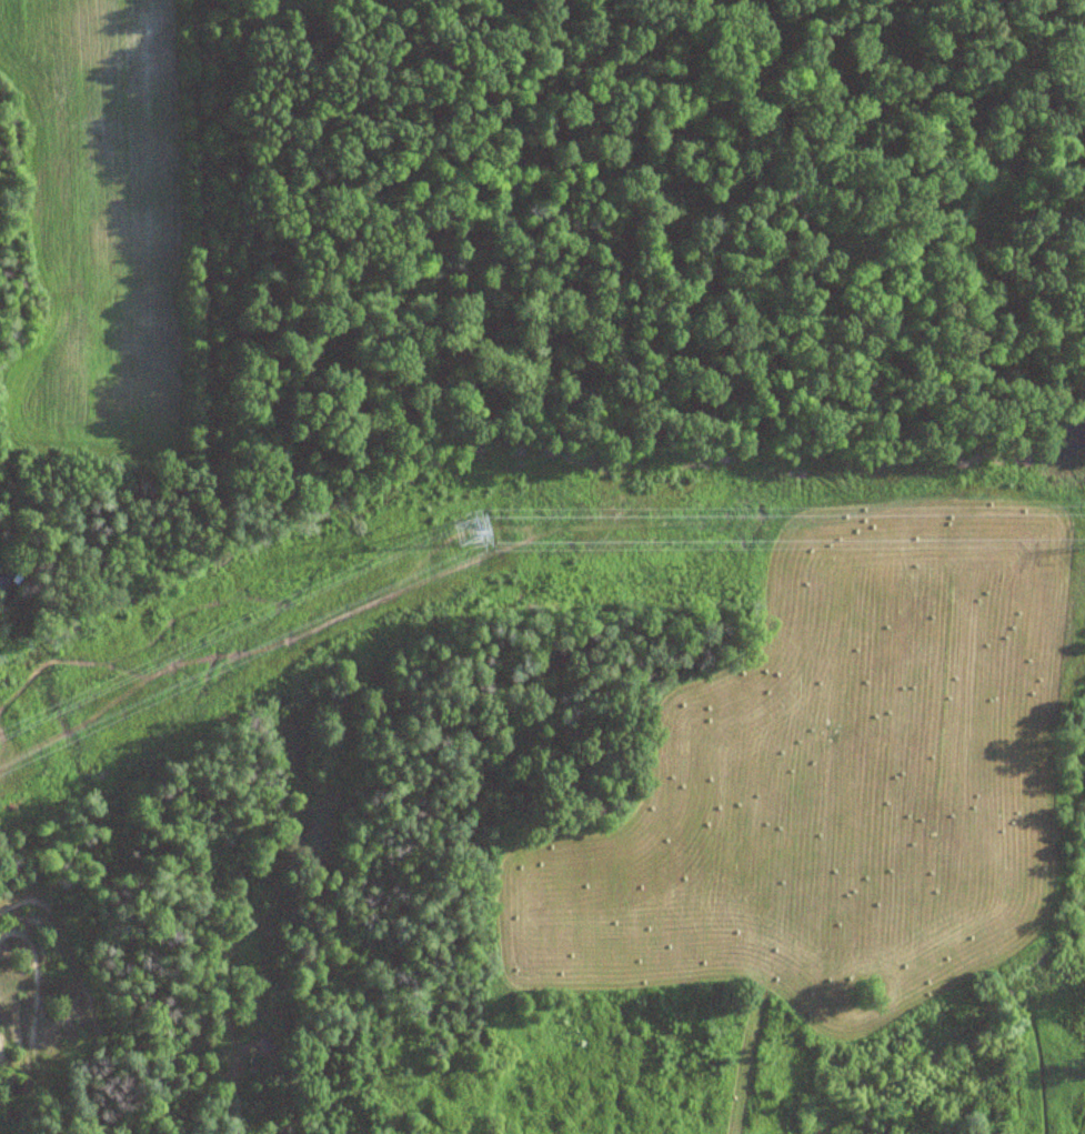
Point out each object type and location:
power tower: (459, 536)

